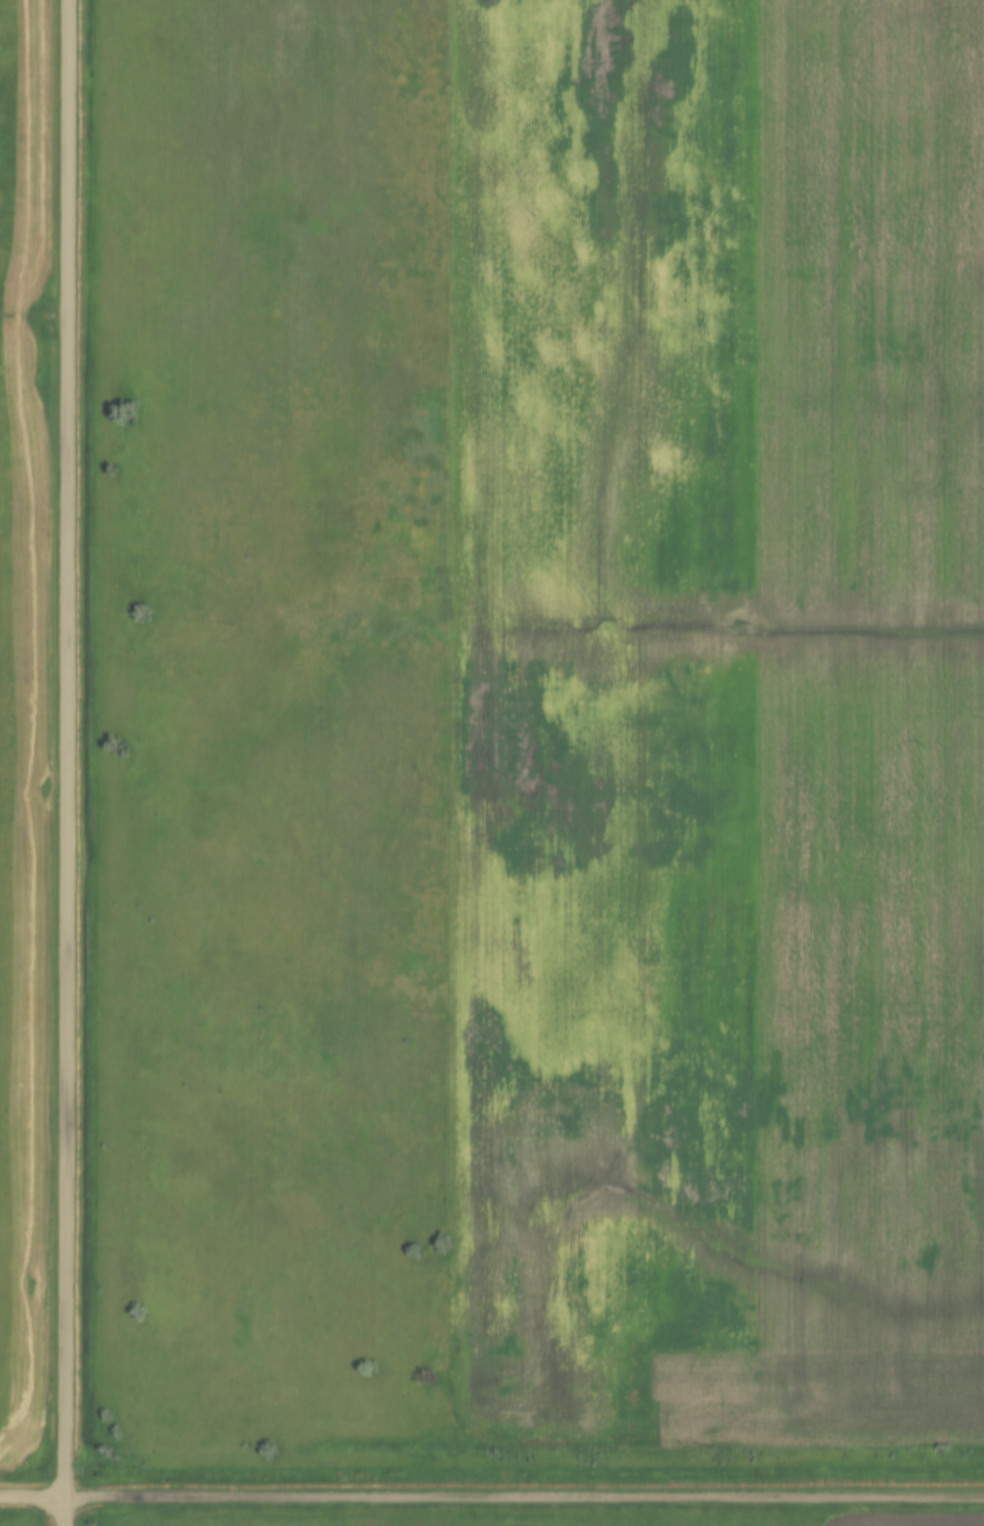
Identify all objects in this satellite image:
road: (73, 763)
road: (528, 1497)
road: (36, 1499)

